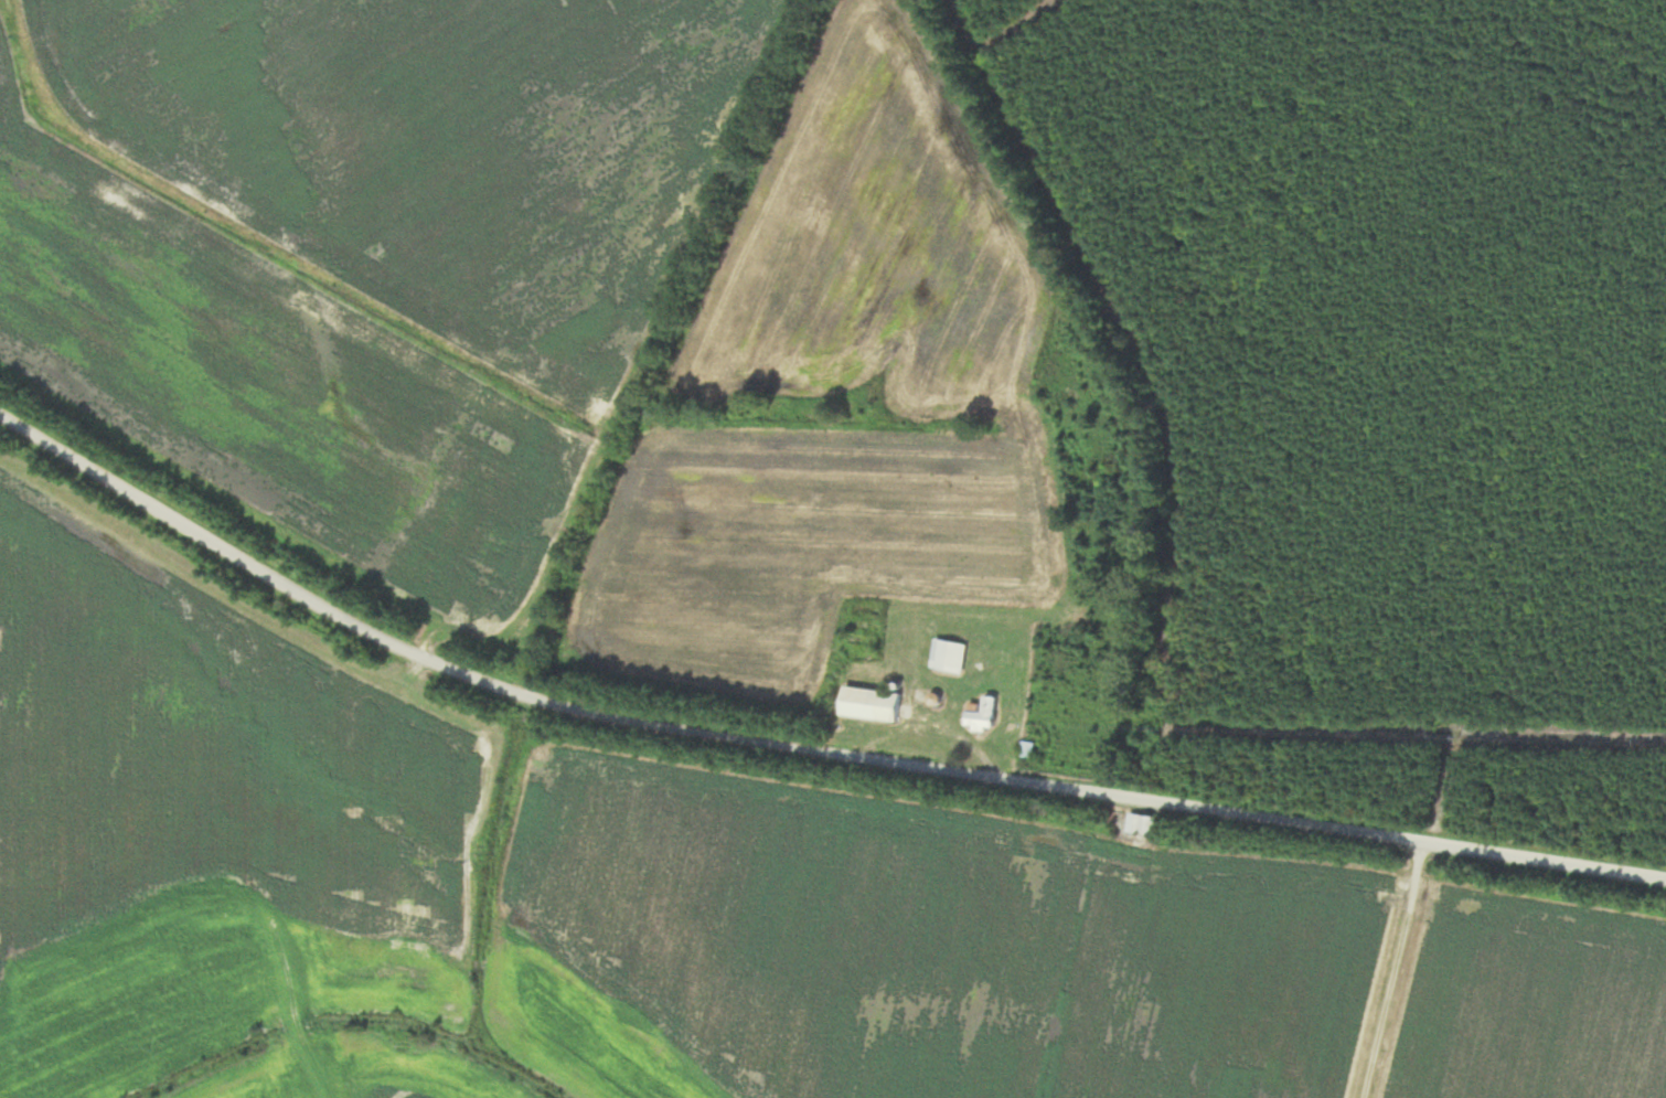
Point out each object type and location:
building: (946, 657)
building: (867, 704)
building: (980, 716)
road: (799, 748)
building: (1143, 824)

